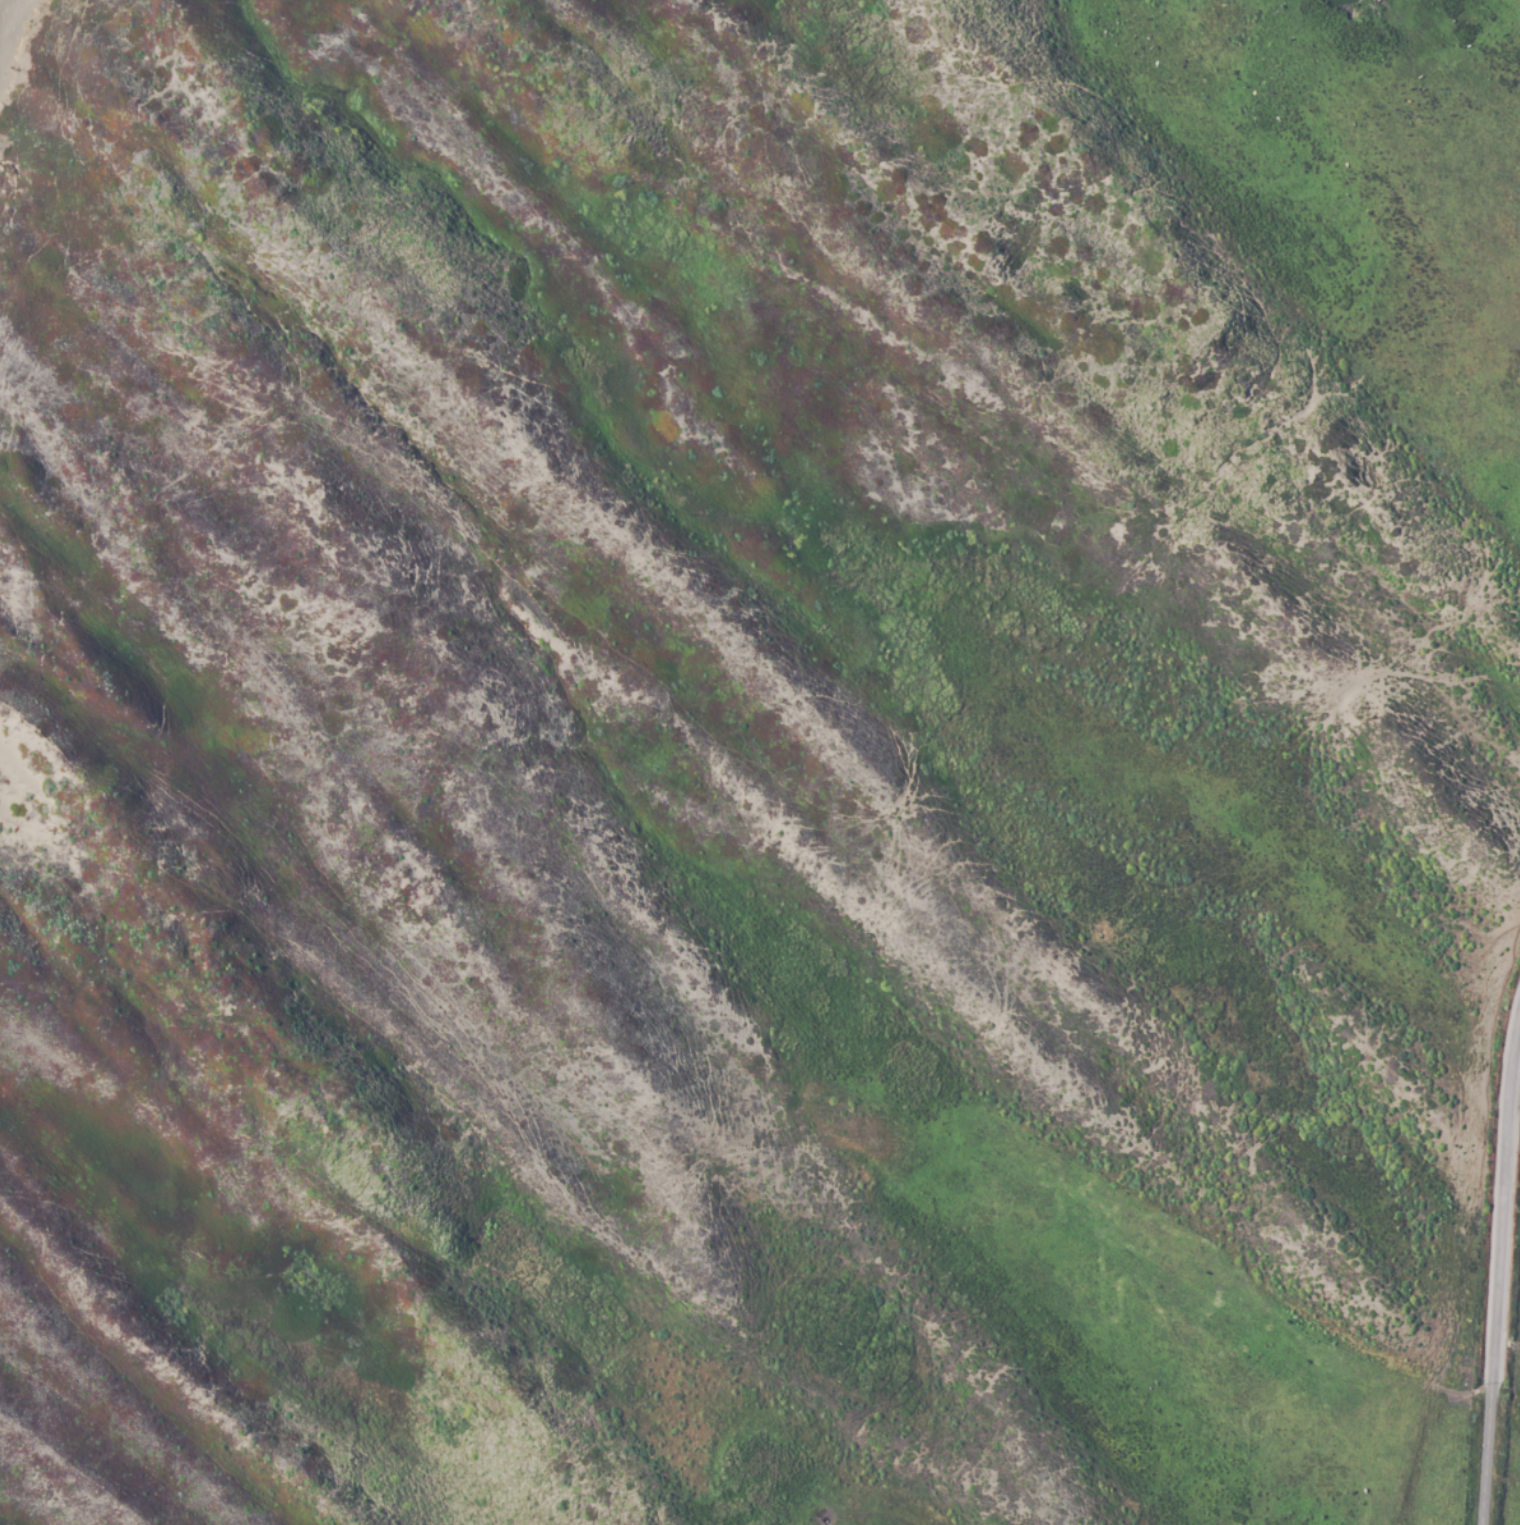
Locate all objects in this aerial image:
road: (1497, 1273)

